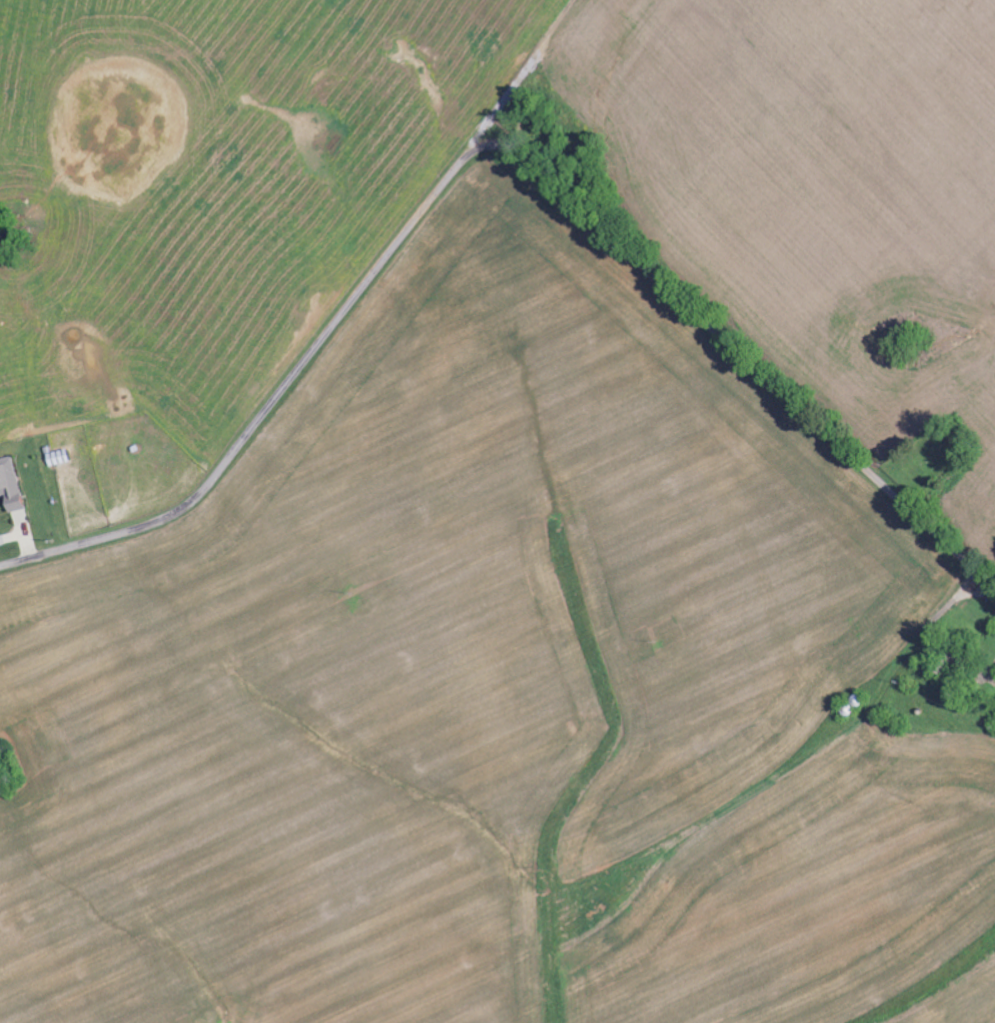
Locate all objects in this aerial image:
road: (492, 146)

